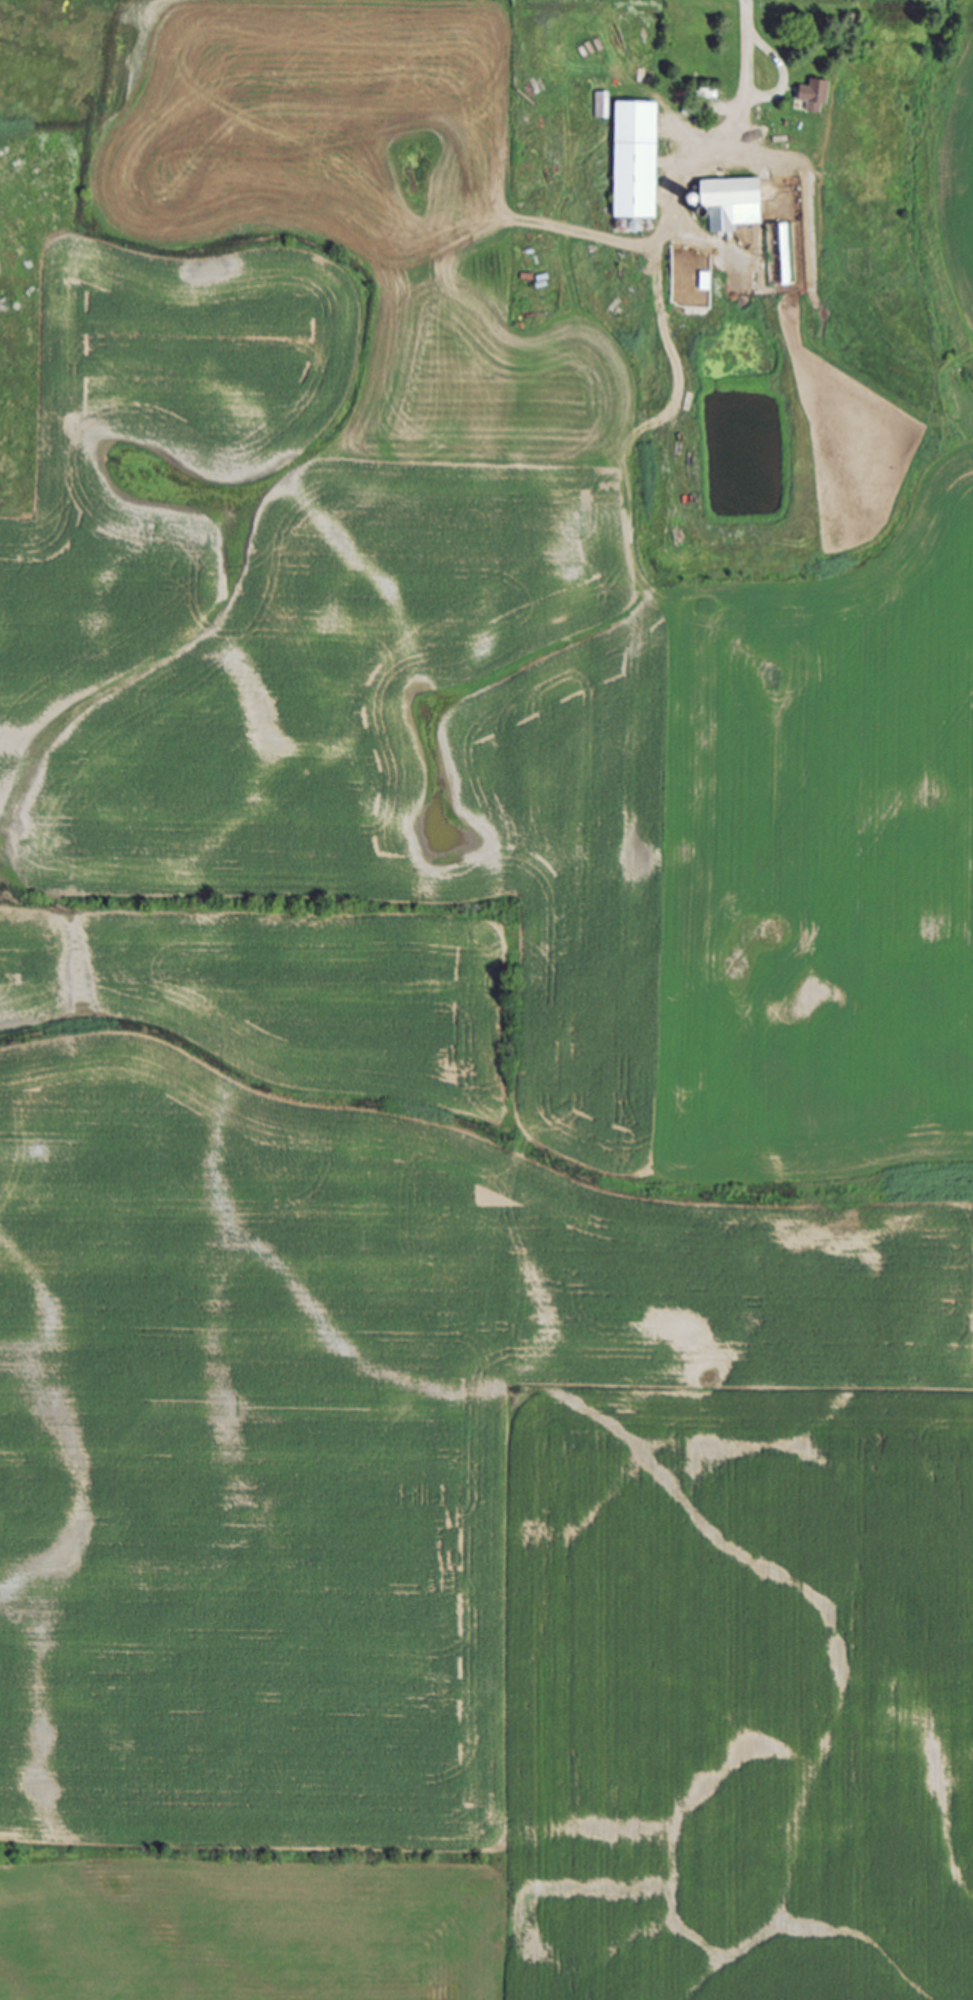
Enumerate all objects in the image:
road: (745, 70)
road: (781, 72)
building: (814, 97)
building: (637, 161)
building: (732, 202)
building: (777, 256)
building: (678, 527)

